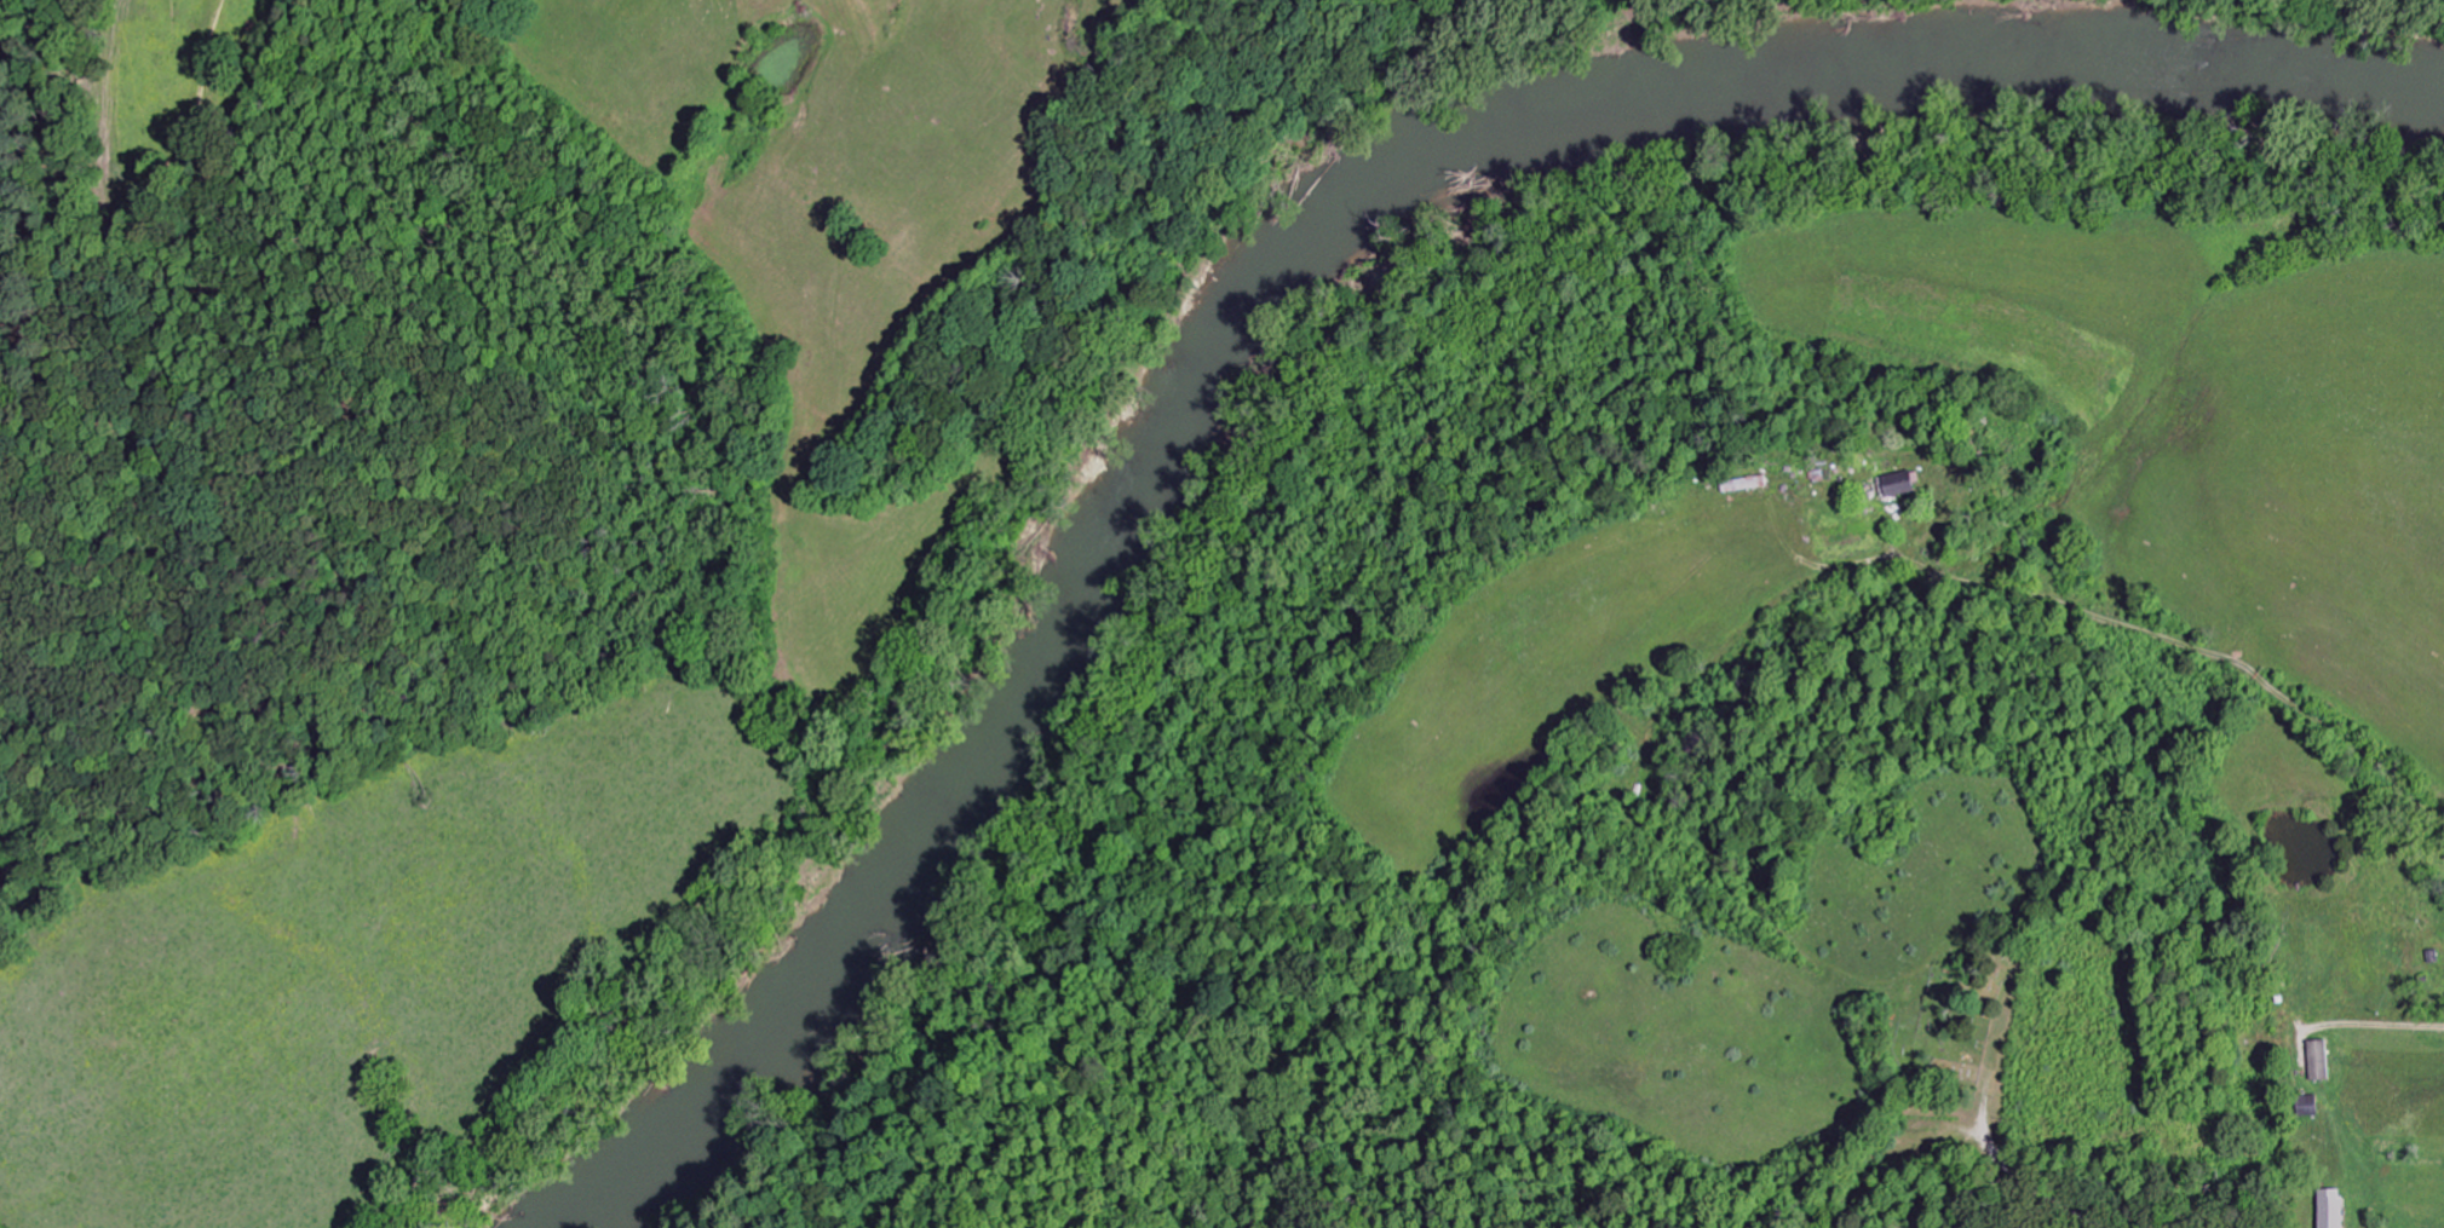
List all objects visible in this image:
river: (1269, 237)
building: (1897, 486)
park: (1959, 1009)
building: (2317, 1061)
road: (1991, 1142)
building: (2330, 1210)

